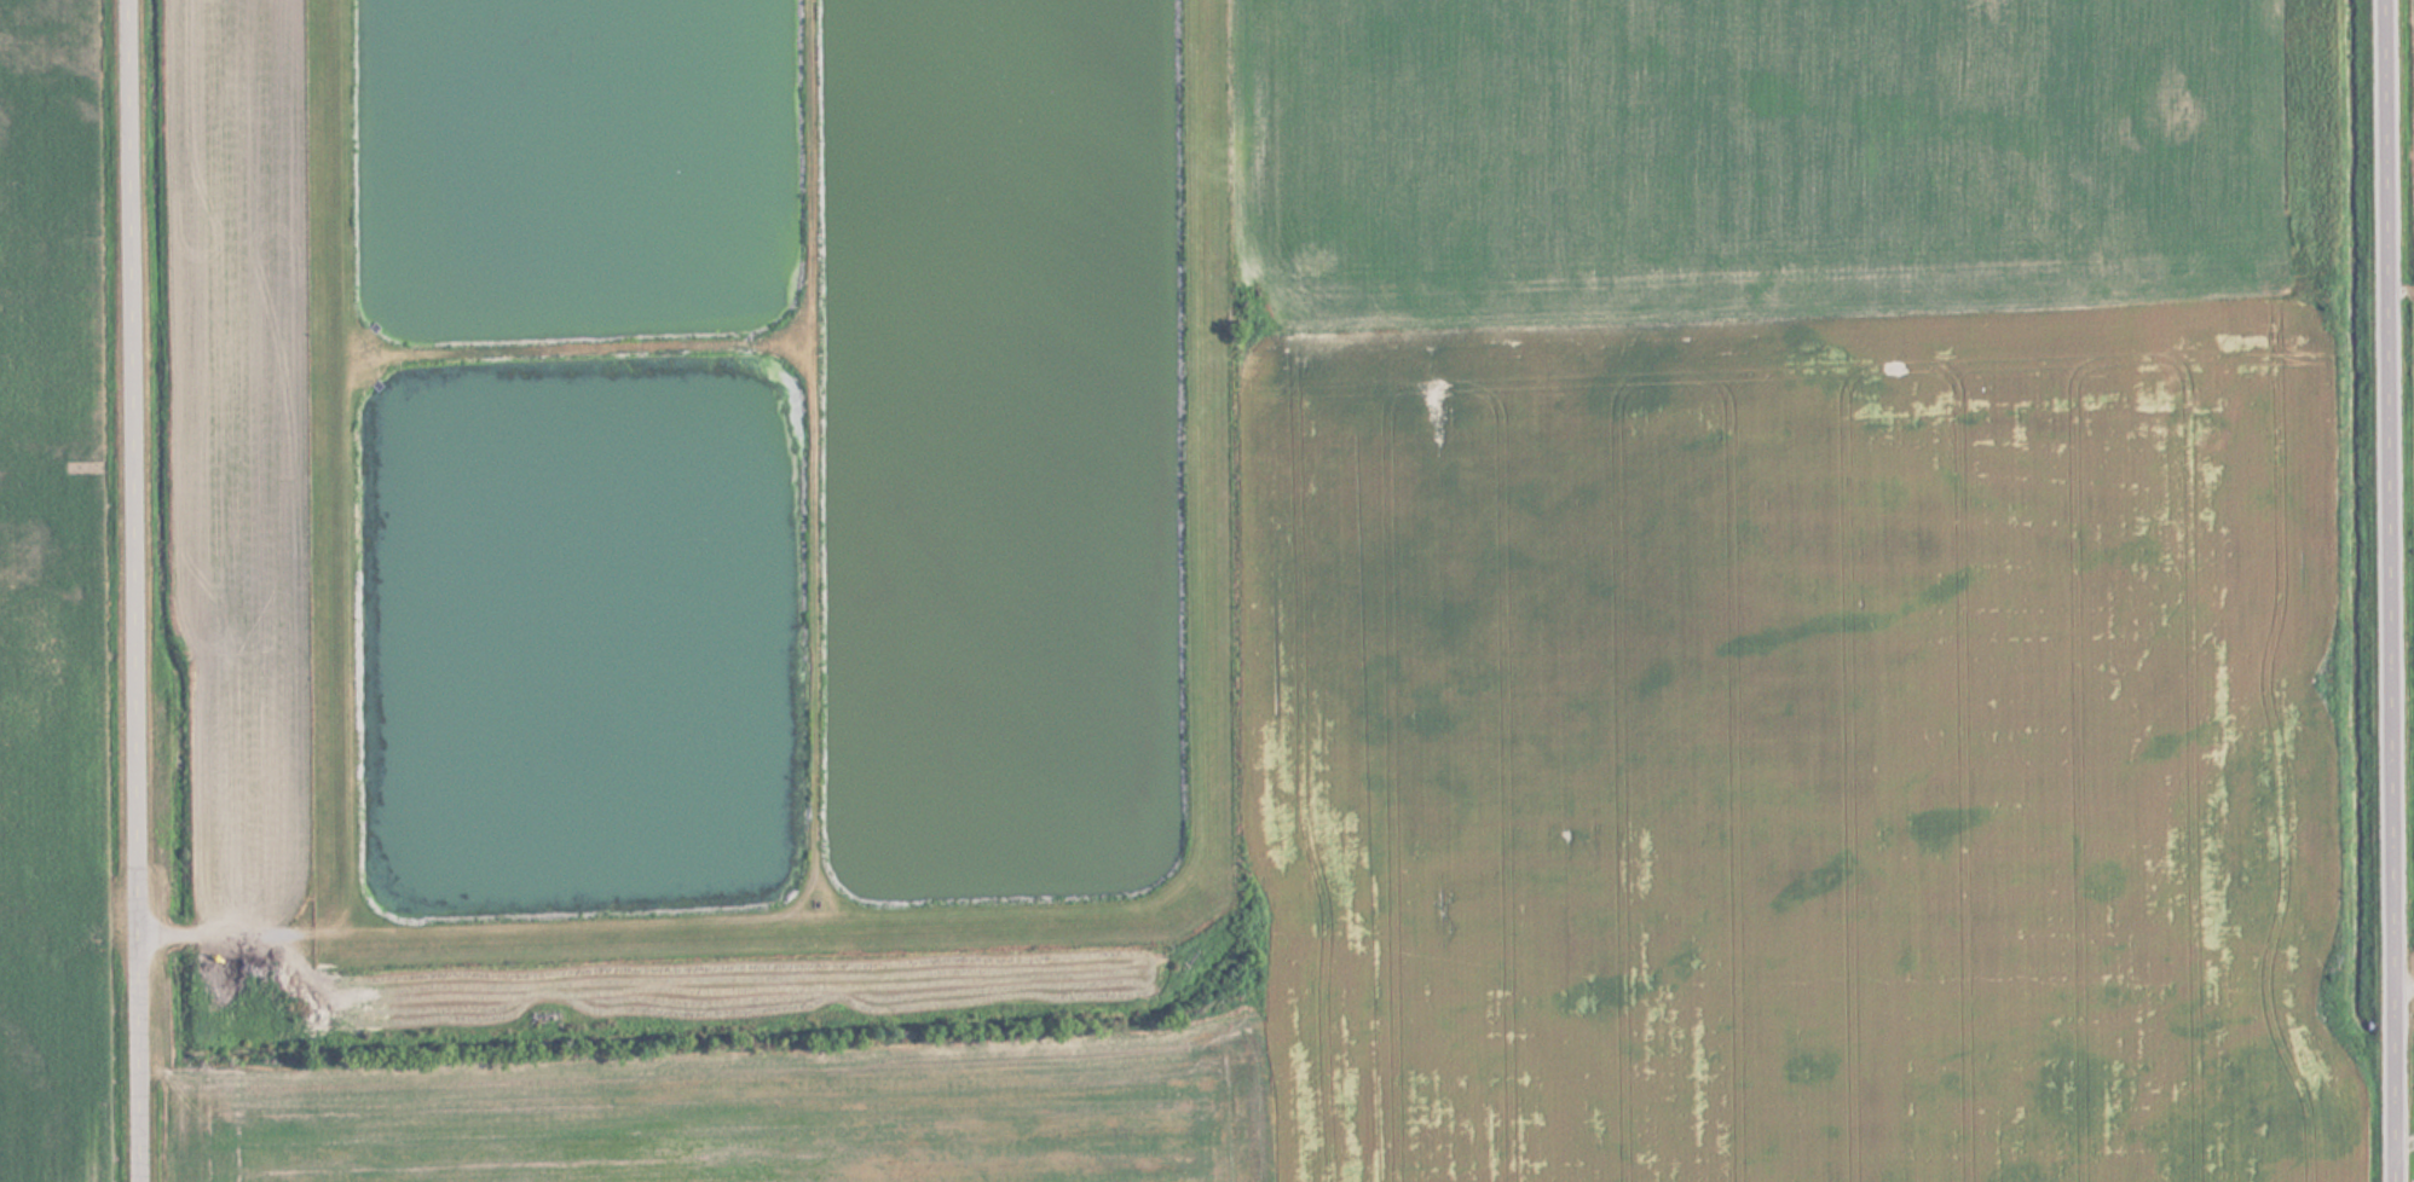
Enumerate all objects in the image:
road: (140, 591)
road: (2391, 591)

